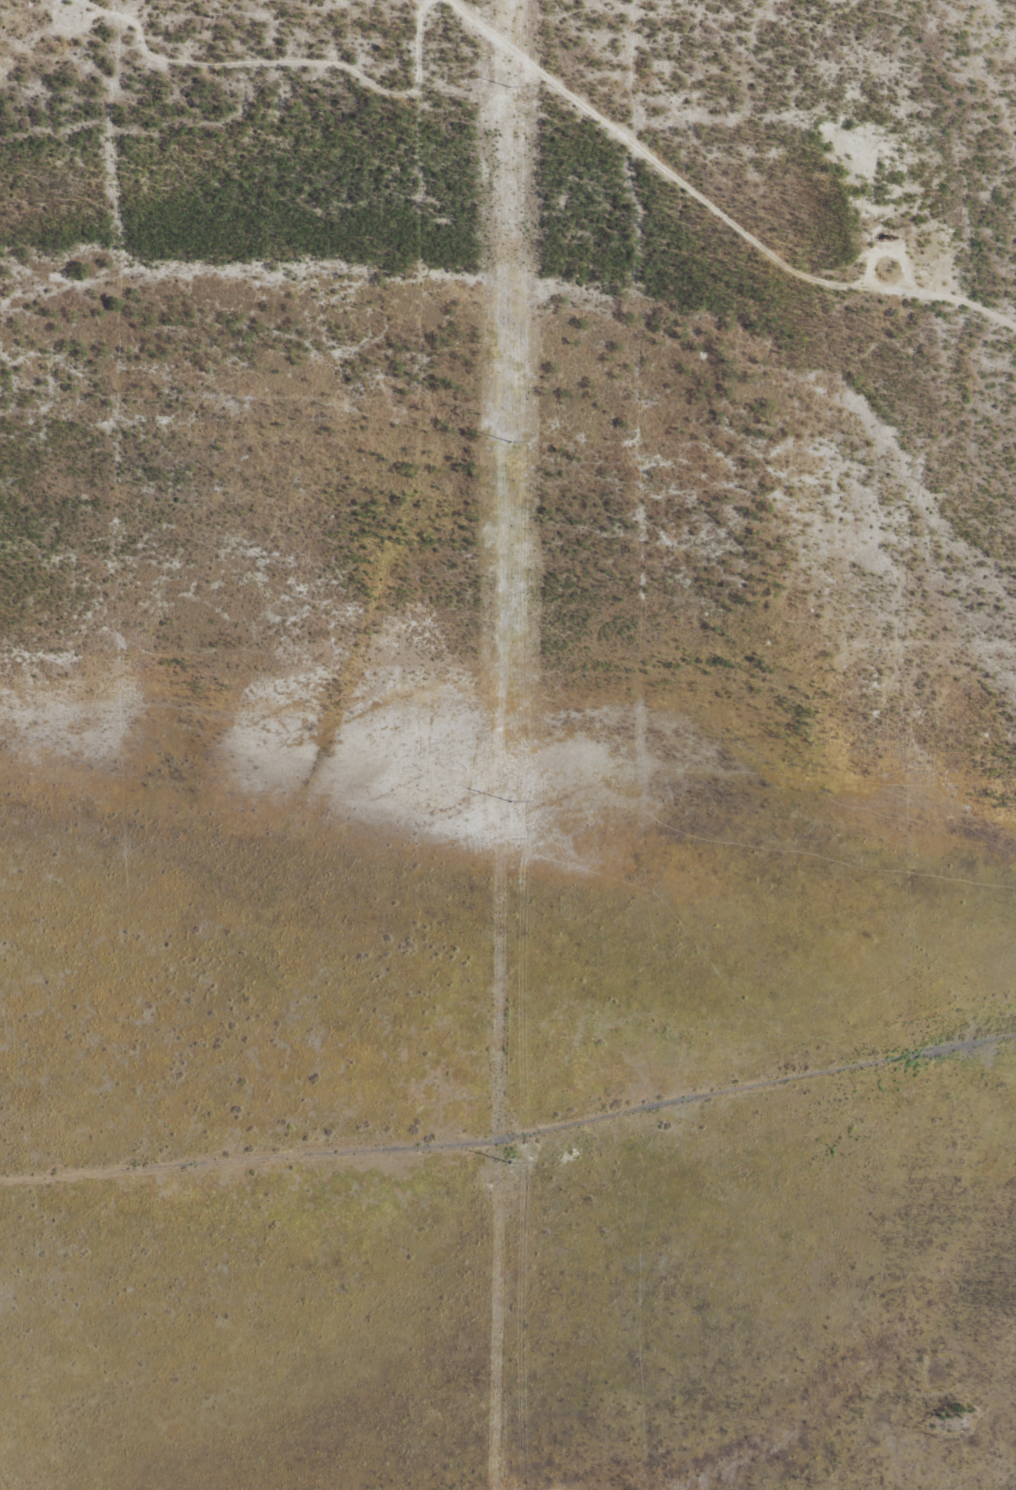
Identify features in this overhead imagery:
power tower: (509, 75)
power tower: (510, 434)
power tower: (510, 795)
power tower: (510, 1154)

